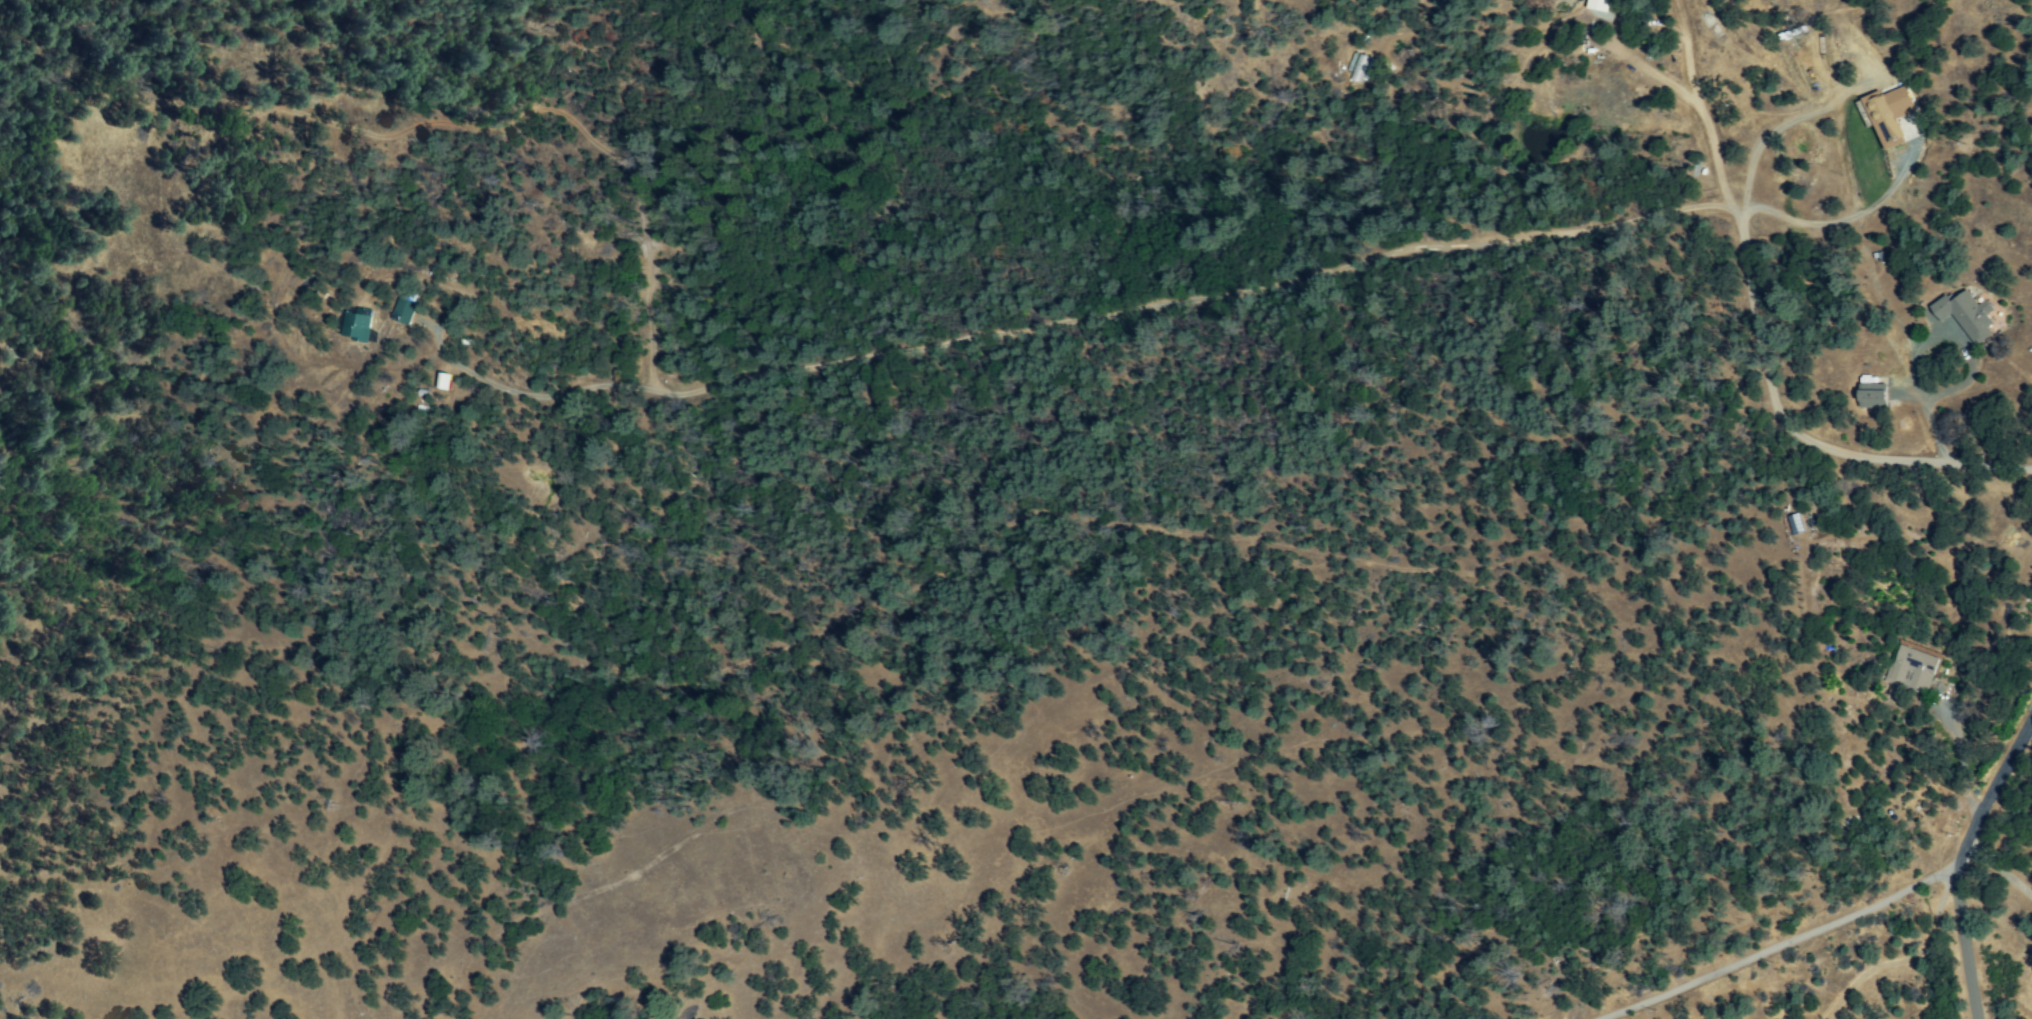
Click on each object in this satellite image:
building: (1887, 114)
building: (404, 312)
building: (1967, 315)
building: (356, 327)
road: (1761, 362)
building: (443, 381)
building: (1874, 396)
building: (1913, 670)
road: (1956, 852)
road: (1996, 870)
road: (1775, 945)

